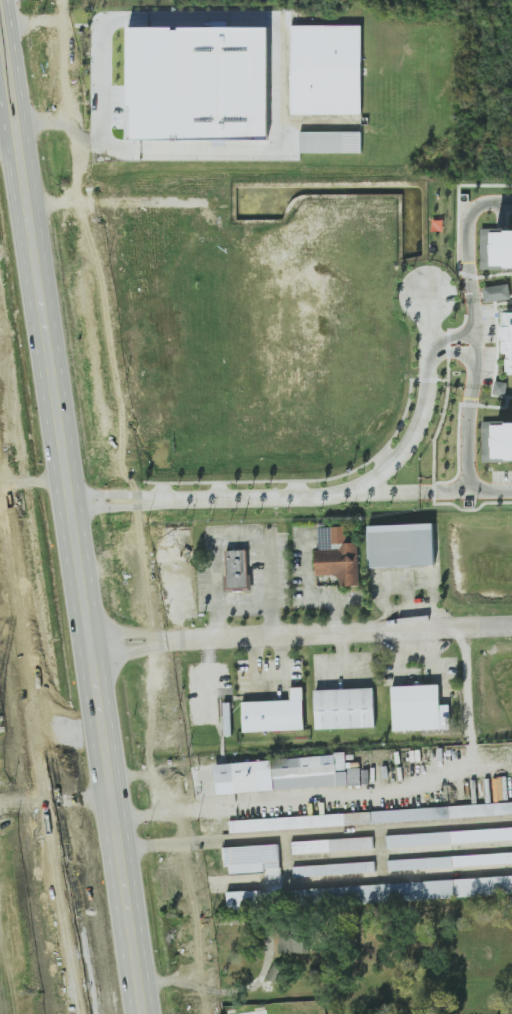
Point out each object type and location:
road: (279, 44)
building: (326, 69)
building: (198, 83)
building: (331, 141)
building: (496, 249)
building: (497, 293)
road: (472, 327)
building: (507, 338)
road: (450, 345)
building: (500, 388)
building: (503, 442)
road: (416, 487)
road: (490, 488)
road: (354, 489)
road: (128, 507)
road: (243, 541)
building: (392, 550)
building: (336, 555)
building: (237, 570)
road: (311, 598)
road: (245, 607)
road: (485, 629)
road: (305, 636)
road: (23, 647)
road: (269, 677)
road: (210, 679)
building: (344, 709)
building: (419, 709)
building: (275, 714)
building: (271, 775)
road: (299, 800)
road: (23, 803)
building: (370, 817)
road: (397, 828)
building: (449, 837)
road: (235, 840)
building: (333, 845)
building: (252, 858)
building: (450, 861)
building: (334, 869)
road: (376, 878)
building: (270, 895)
building: (244, 899)
road: (62, 908)
building: (294, 942)
building: (275, 971)

